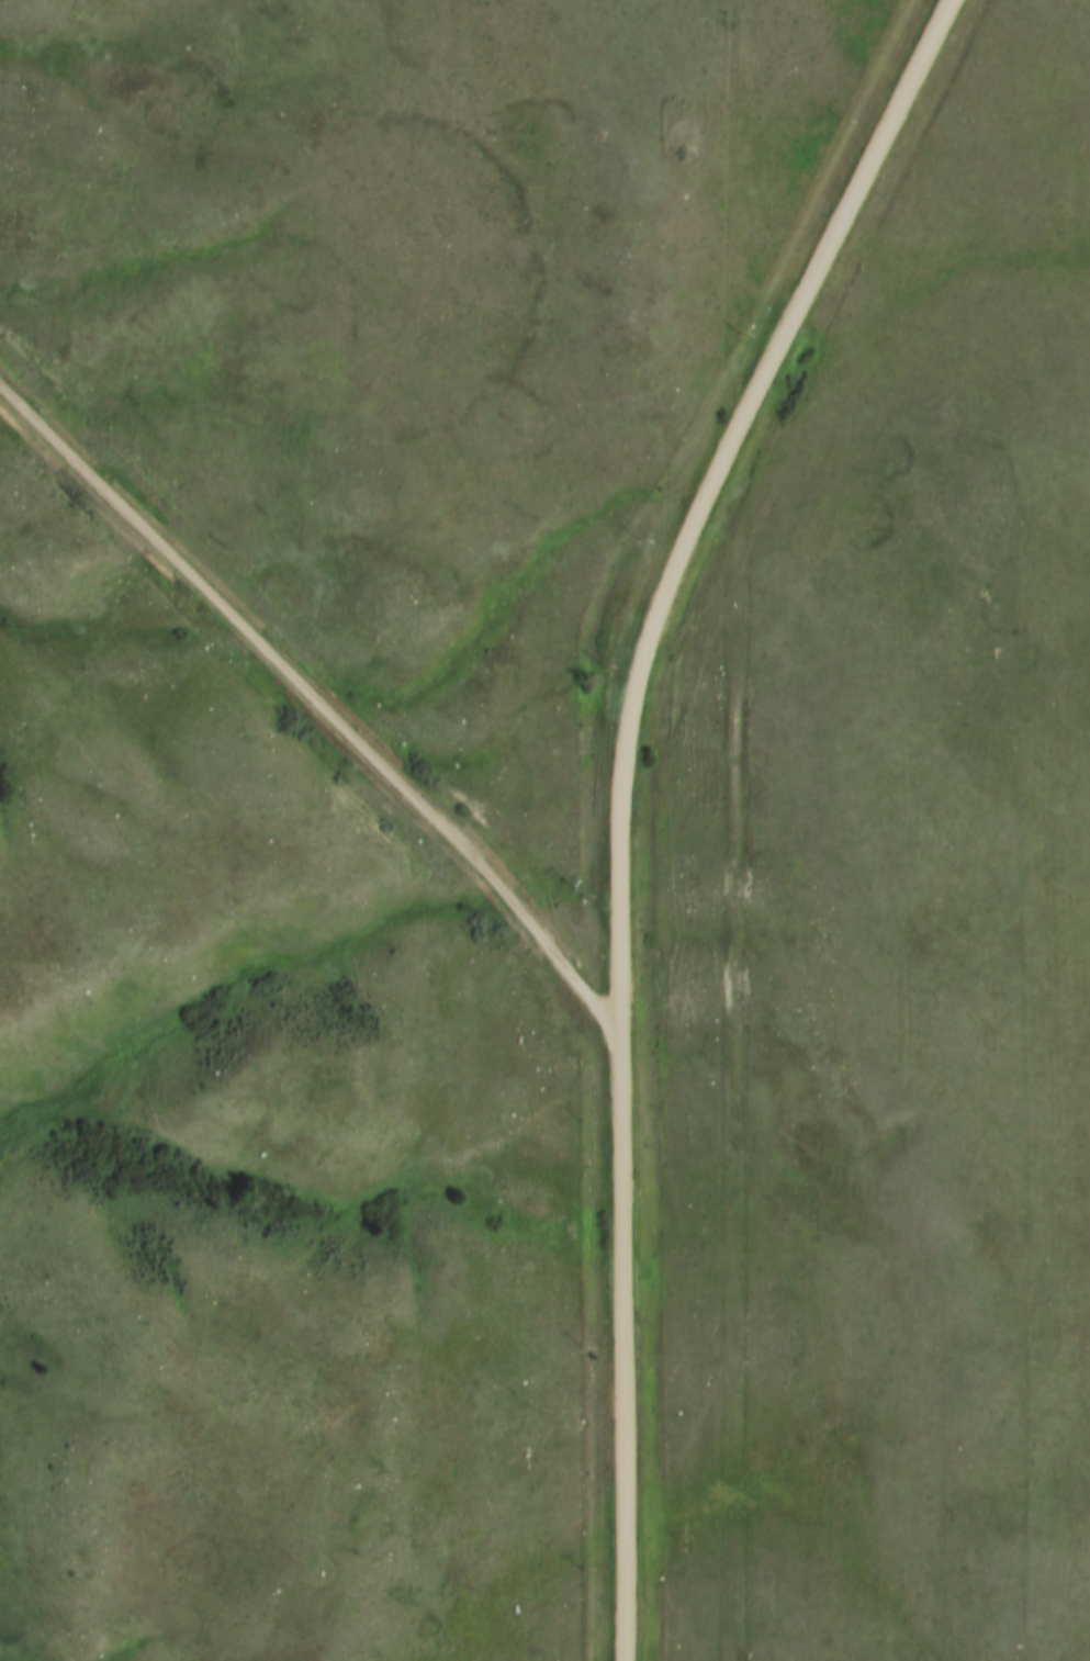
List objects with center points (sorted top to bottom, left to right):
road: (321, 714)
road: (621, 795)

